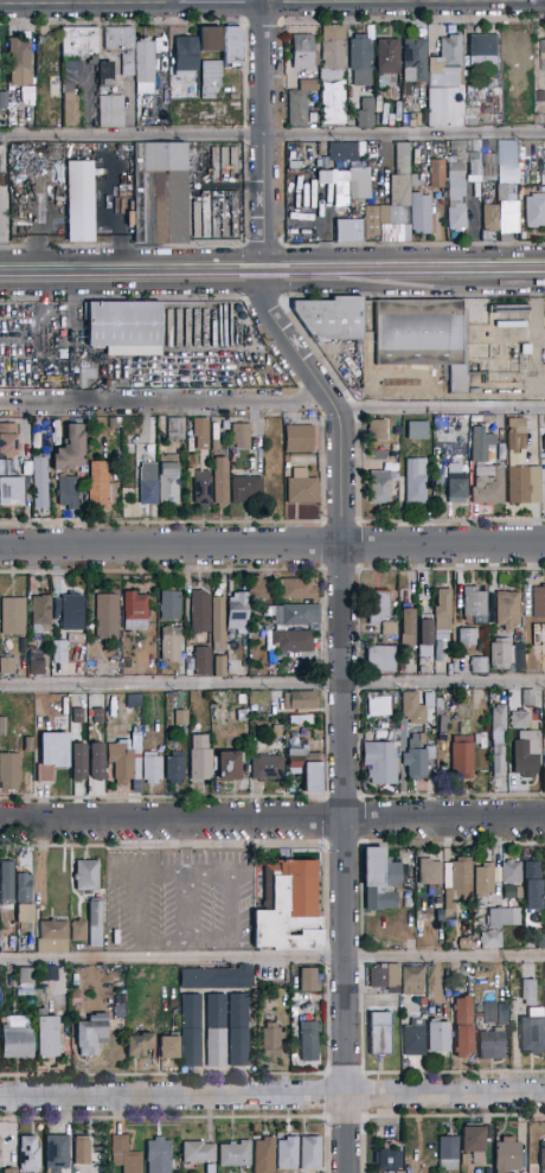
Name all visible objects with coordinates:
road: (220, 0)
road: (304, 0)
road: (21, 1)
road: (89, 1)
building: (210, 39)
building: (78, 40)
building: (121, 46)
building: (232, 46)
building: (332, 47)
building: (483, 50)
building: (303, 51)
building: (186, 53)
building: (389, 57)
building: (543, 57)
building: (360, 60)
building: (415, 60)
building: (20, 62)
building: (143, 62)
road: (264, 68)
building: (104, 76)
building: (210, 78)
building: (338, 82)
building: (308, 85)
building: (445, 85)
building: (4, 101)
building: (70, 108)
building: (297, 108)
building: (395, 108)
building: (332, 109)
building: (540, 110)
building: (110, 111)
building: (365, 115)
building: (417, 120)
road: (272, 134)
building: (457, 147)
building: (342, 152)
building: (511, 160)
building: (541, 162)
building: (474, 165)
building: (490, 167)
building: (294, 173)
building: (437, 174)
building: (323, 178)
building: (455, 180)
building: (416, 181)
building: (360, 184)
building: (161, 193)
building: (397, 201)
building: (81, 203)
road: (264, 204)
building: (507, 209)
building: (534, 211)
building: (421, 213)
building: (489, 214)
building: (457, 218)
building: (372, 223)
building: (350, 231)
railway: (271, 267)
road: (403, 270)
road: (132, 273)
railway: (272, 276)
railway: (427, 288)
building: (24, 308)
building: (508, 309)
building: (331, 318)
building: (507, 321)
road: (538, 325)
building: (126, 328)
building: (424, 338)
building: (526, 350)
road: (165, 406)
road: (437, 408)
building: (113, 423)
building: (225, 425)
building: (175, 429)
building: (376, 429)
building: (43, 435)
building: (241, 435)
building: (299, 438)
building: (7, 440)
building: (544, 442)
building: (481, 444)
building: (216, 446)
building: (70, 450)
building: (235, 454)
building: (392, 463)
building: (518, 463)
building: (6, 468)
building: (148, 472)
building: (416, 481)
building: (220, 482)
building: (40, 483)
building: (168, 483)
building: (488, 485)
building: (98, 486)
building: (456, 486)
building: (128, 487)
building: (17, 488)
building: (203, 488)
building: (245, 488)
building: (302, 488)
building: (380, 488)
building: (543, 491)
building: (69, 493)
building: (148, 493)
road: (271, 546)
building: (483, 586)
building: (257, 588)
building: (295, 589)
building: (539, 603)
building: (475, 604)
building: (171, 605)
building: (379, 607)
building: (68, 610)
building: (508, 610)
building: (135, 611)
building: (200, 611)
building: (237, 611)
building: (443, 613)
building: (108, 614)
building: (40, 615)
building: (294, 615)
building: (13, 616)
building: (218, 624)
building: (408, 628)
building: (390, 629)
building: (425, 636)
building: (467, 639)
building: (530, 640)
building: (293, 641)
building: (172, 643)
building: (481, 645)
building: (499, 654)
building: (519, 656)
building: (380, 659)
building: (201, 660)
building: (479, 665)
building: (7, 666)
building: (37, 667)
building: (219, 667)
road: (271, 684)
building: (527, 698)
building: (300, 701)
building: (379, 706)
building: (416, 707)
road: (342, 711)
building: (77, 716)
building: (98, 716)
building: (181, 718)
building: (243, 720)
building: (519, 720)
building: (498, 723)
building: (206, 724)
building: (2, 727)
building: (276, 731)
building: (432, 732)
building: (25, 744)
building: (52, 756)
building: (462, 758)
building: (544, 758)
building: (200, 759)
building: (418, 759)
building: (524, 759)
building: (78, 762)
building: (97, 762)
building: (121, 763)
building: (380, 763)
building: (499, 763)
building: (175, 767)
building: (229, 767)
building: (152, 768)
building: (267, 768)
building: (306, 768)
building: (11, 771)
road: (271, 820)
road: (185, 846)
building: (379, 868)
road: (214, 871)
building: (429, 873)
building: (511, 873)
building: (86, 876)
building: (483, 880)
building: (457, 886)
building: (7, 895)
building: (532, 895)
building: (24, 896)
building: (379, 899)
building: (408, 903)
building: (289, 909)
building: (95, 924)
building: (499, 925)
building: (78, 930)
building: (52, 936)
building: (466, 943)
building: (540, 944)
road: (271, 959)
building: (50, 974)
building: (385, 977)
building: (26, 979)
building: (216, 979)
building: (411, 980)
building: (308, 981)
building: (528, 992)
building: (216, 1011)
building: (238, 1011)
building: (118, 1012)
building: (191, 1012)
building: (490, 1014)
building: (502, 1014)
building: (479, 1018)
building: (463, 1027)
building: (379, 1032)
building: (532, 1032)
building: (91, 1034)
building: (47, 1036)
building: (437, 1038)
building: (309, 1041)
building: (413, 1041)
building: (17, 1043)
building: (139, 1043)
building: (271, 1043)
building: (492, 1044)
building: (238, 1046)
building: (168, 1047)
building: (216, 1047)
building: (191, 1049)
road: (272, 1097)
building: (474, 1143)
building: (82, 1150)
building: (56, 1153)
building: (309, 1153)
building: (448, 1153)
building: (28, 1154)
building: (235, 1154)
building: (287, 1154)
building: (124, 1155)
building: (264, 1155)
building: (508, 1155)
building: (159, 1156)
building: (197, 1156)
building: (543, 1158)
building: (389, 1160)
building: (11, 1171)

